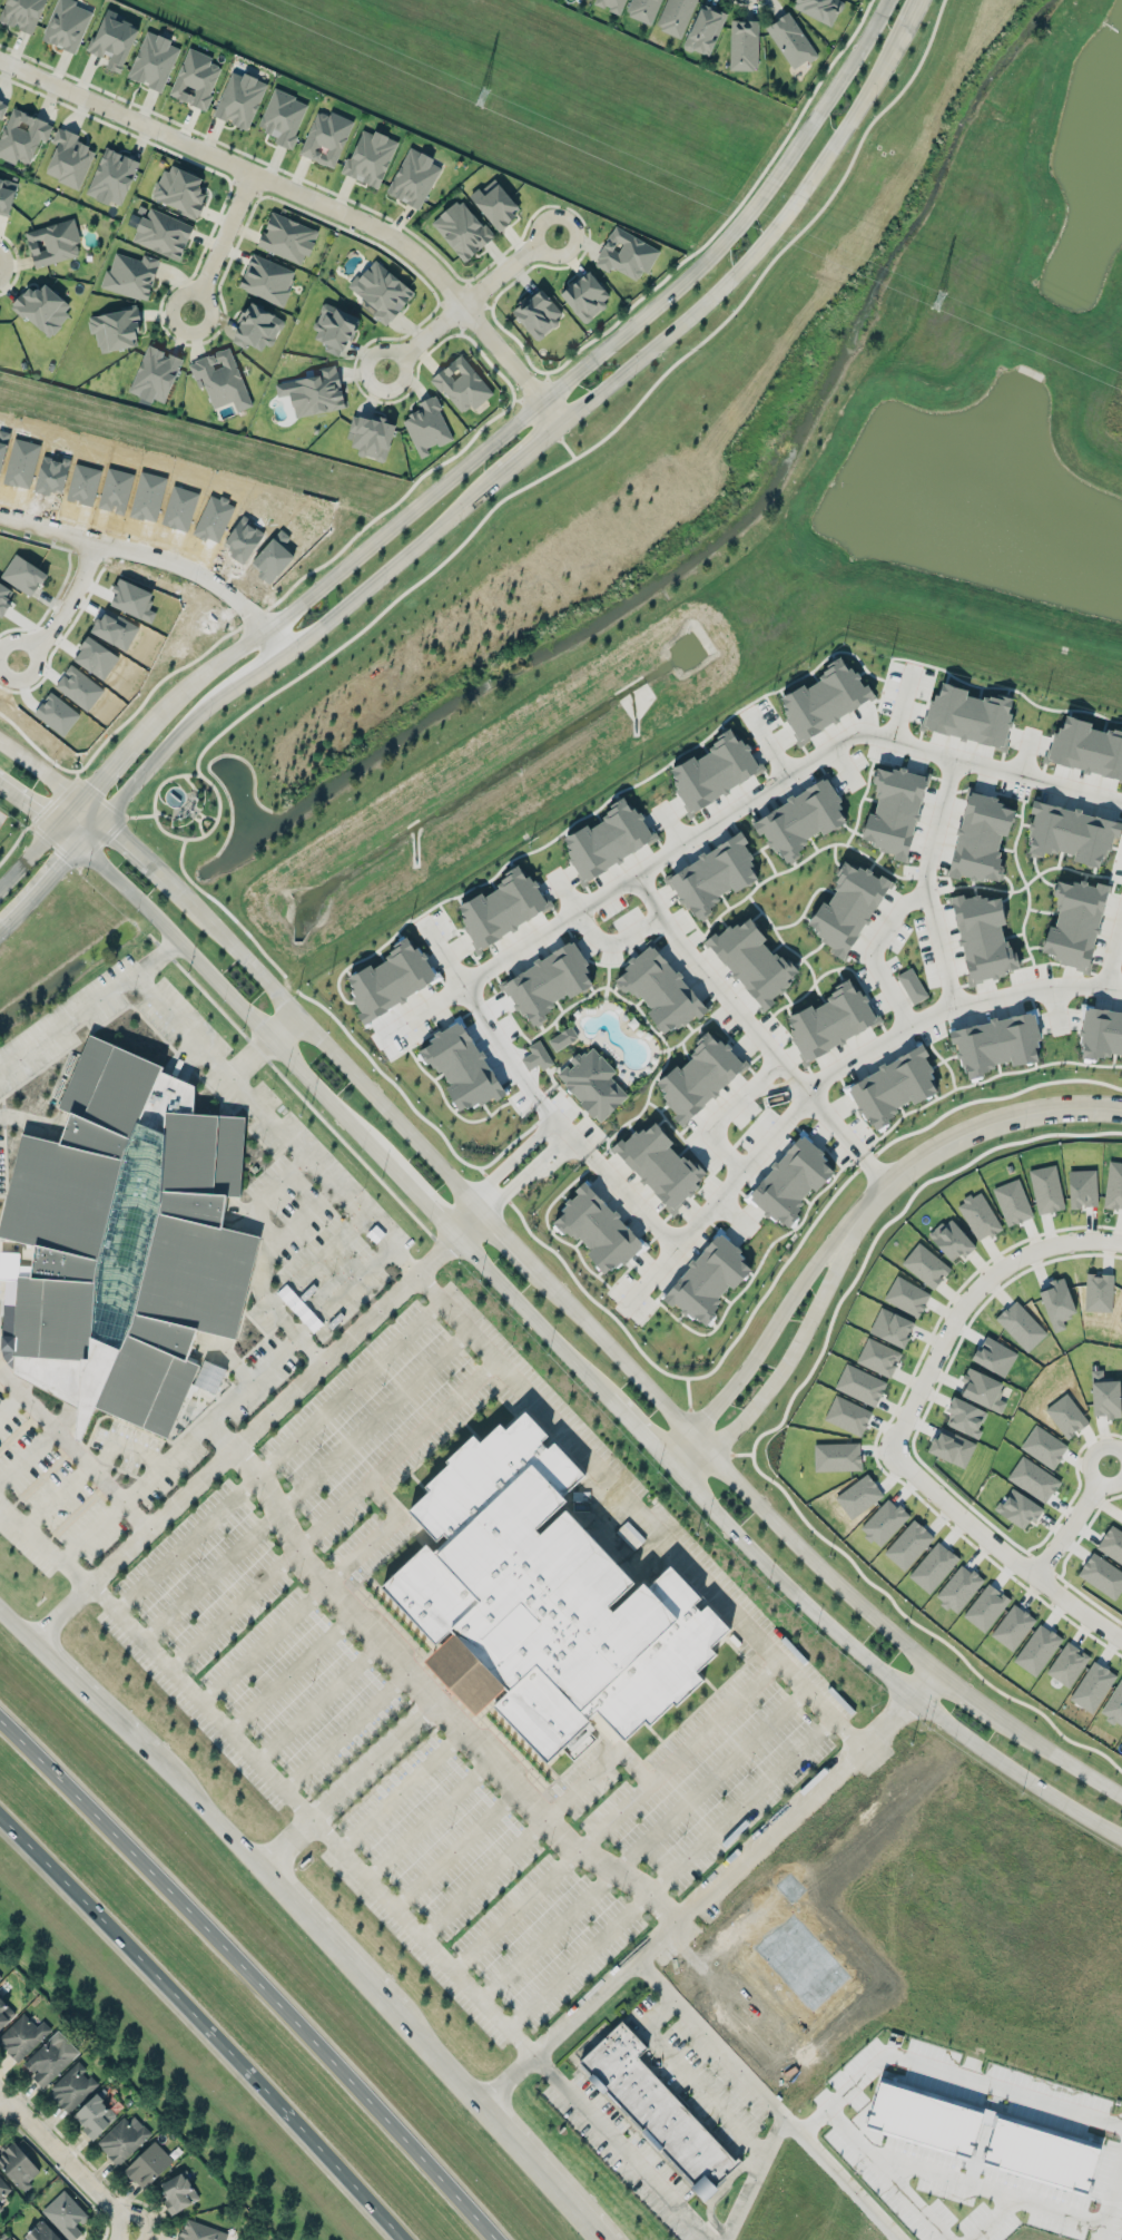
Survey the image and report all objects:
building: (819, 9)
building: (643, 10)
building: (21, 13)
building: (675, 16)
building: (67, 25)
building: (705, 29)
building: (112, 39)
building: (790, 40)
building: (744, 45)
building: (152, 60)
building: (195, 78)
power tower: (479, 94)
building: (239, 99)
building: (2, 108)
building: (283, 116)
building: (21, 136)
building: (326, 137)
building: (370, 157)
building: (68, 158)
building: (111, 176)
building: (413, 177)
building: (179, 189)
building: (6, 195)
road: (313, 196)
building: (494, 203)
building: (462, 228)
building: (163, 233)
building: (287, 237)
road: (220, 239)
building: (52, 242)
building: (626, 253)
building: (130, 274)
building: (266, 278)
building: (380, 290)
building: (585, 295)
road: (467, 299)
power tower: (939, 304)
building: (42, 307)
building: (538, 313)
building: (256, 327)
building: (334, 327)
building: (116, 329)
building: (155, 374)
building: (220, 379)
building: (461, 384)
building: (314, 392)
road: (544, 398)
building: (426, 425)
building: (370, 436)
road: (544, 438)
road: (161, 547)
road: (70, 596)
building: (79, 685)
road: (981, 686)
building: (824, 698)
road: (904, 700)
building: (57, 711)
building: (968, 714)
road: (766, 740)
building: (1085, 747)
road: (1024, 753)
road: (107, 764)
road: (843, 764)
road: (40, 766)
building: (713, 771)
road: (864, 791)
road: (30, 801)
road: (91, 806)
road: (597, 808)
road: (732, 808)
road: (69, 810)
building: (894, 810)
building: (800, 819)
road: (91, 829)
road: (69, 832)
building: (1071, 832)
building: (981, 838)
building: (607, 839)
road: (136, 845)
road: (30, 857)
road: (798, 863)
building: (712, 876)
road: (41, 883)
road: (568, 891)
road: (914, 897)
building: (502, 907)
building: (847, 907)
building: (1074, 922)
building: (983, 937)
road: (616, 941)
road: (941, 950)
road: (1113, 955)
building: (752, 960)
building: (390, 979)
building: (548, 982)
building: (912, 985)
building: (659, 989)
road: (236, 1001)
road: (1055, 1007)
road: (68, 1017)
building: (830, 1020)
road: (488, 1026)
road: (757, 1029)
building: (1101, 1033)
building: (562, 1038)
road: (323, 1040)
building: (995, 1043)
road: (264, 1044)
building: (537, 1055)
building: (462, 1066)
building: (699, 1076)
road: (983, 1079)
building: (592, 1083)
building: (893, 1086)
road: (801, 1099)
road: (726, 1114)
road: (978, 1128)
road: (516, 1155)
building: (660, 1165)
road: (530, 1173)
building: (791, 1181)
building: (1113, 1185)
building: (1082, 1187)
building: (1046, 1189)
road: (344, 1195)
road: (424, 1199)
building: (1012, 1201)
road: (734, 1214)
building: (978, 1215)
road: (469, 1219)
building: (597, 1229)
road: (512, 1238)
building: (952, 1240)
building: (125, 1241)
road: (264, 1242)
road: (403, 1260)
building: (925, 1264)
road: (651, 1276)
building: (708, 1278)
building: (906, 1295)
road: (531, 1311)
road: (465, 1327)
building: (890, 1327)
road: (768, 1337)
road: (311, 1348)
road: (791, 1356)
building: (878, 1357)
building: (209, 1376)
building: (859, 1383)
road: (350, 1388)
building: (982, 1389)
building: (847, 1415)
road: (374, 1421)
road: (637, 1421)
road: (899, 1428)
road: (242, 1435)
building: (952, 1447)
road: (72, 1448)
road: (397, 1451)
building: (836, 1456)
road: (168, 1463)
road: (679, 1466)
road: (736, 1476)
road: (1072, 1522)
road: (43, 1543)
road: (186, 1543)
road: (690, 1563)
road: (209, 1575)
building: (539, 1591)
road: (235, 1607)
road: (14, 1624)
road: (265, 1643)
road: (291, 1671)
road: (886, 1682)
road: (88, 1694)
road: (965, 1695)
road: (436, 1699)
parking lot: (441, 1699)
road: (319, 1700)
road: (347, 1729)
road: (676, 1753)
road: (1057, 1758)
road: (375, 1759)
road: (594, 1768)
road: (709, 1780)
road: (402, 1789)
road: (205, 1809)
road: (312, 1817)
road: (430, 1818)
road: (289, 1845)
road: (454, 1848)
road: (671, 1871)
road: (484, 1878)
road: (710, 1887)
road: (515, 1910)
road: (328, 1936)
road: (547, 1936)
road: (722, 1946)
building: (0, 1976)
road: (252, 1976)
road: (738, 2011)
building: (4, 2013)
road: (205, 2025)
building: (22, 2036)
road: (437, 2054)
building: (51, 2058)
road: (964, 2073)
road: (688, 2074)
building: (73, 2085)
road: (755, 2086)
road: (2, 2093)
building: (659, 2109)
building: (93, 2115)
road: (814, 2122)
building: (124, 2138)
building: (937, 2138)
road: (621, 2146)
road: (65, 2159)
building: (17, 2164)
building: (149, 2165)
road: (543, 2170)
road: (841, 2177)
road: (983, 2187)
building: (3, 2188)
building: (177, 2191)
building: (1, 2208)
road: (916, 2208)
building: (65, 2214)
road: (990, 2218)
building: (40, 2231)
building: (199, 2231)
road: (124, 2236)
building: (7, 2238)

